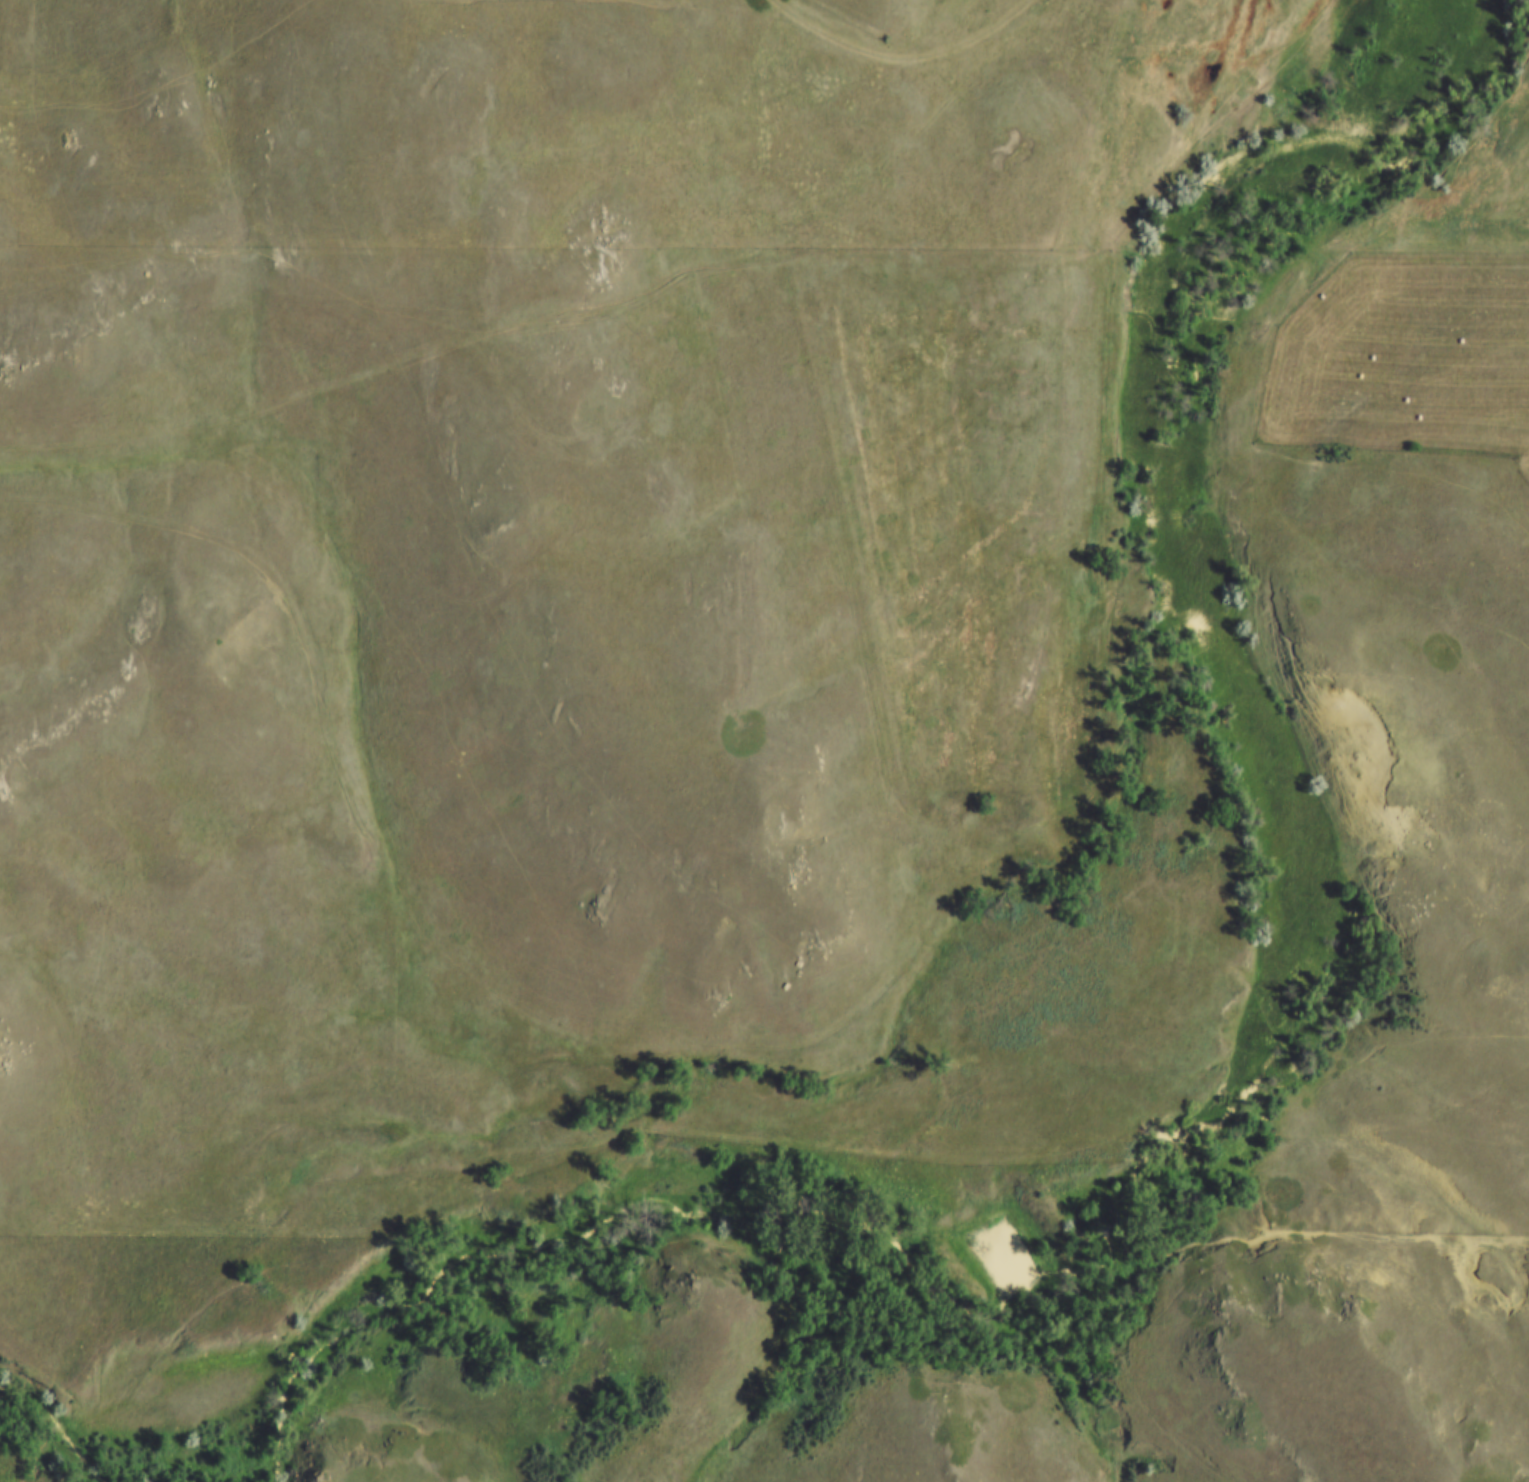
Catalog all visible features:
road: (901, 59)

